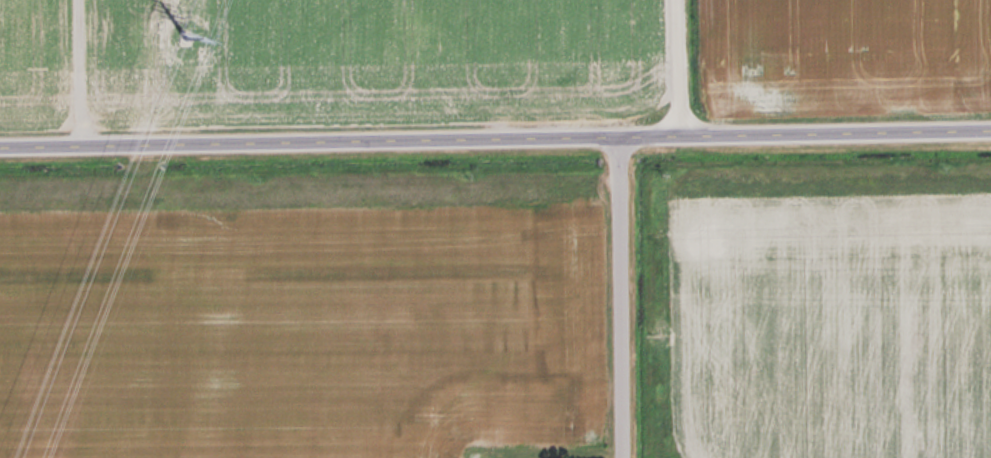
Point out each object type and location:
power tower: (183, 45)
road: (676, 56)
road: (70, 76)
road: (677, 127)
road: (495, 145)
road: (622, 156)
road: (624, 314)

